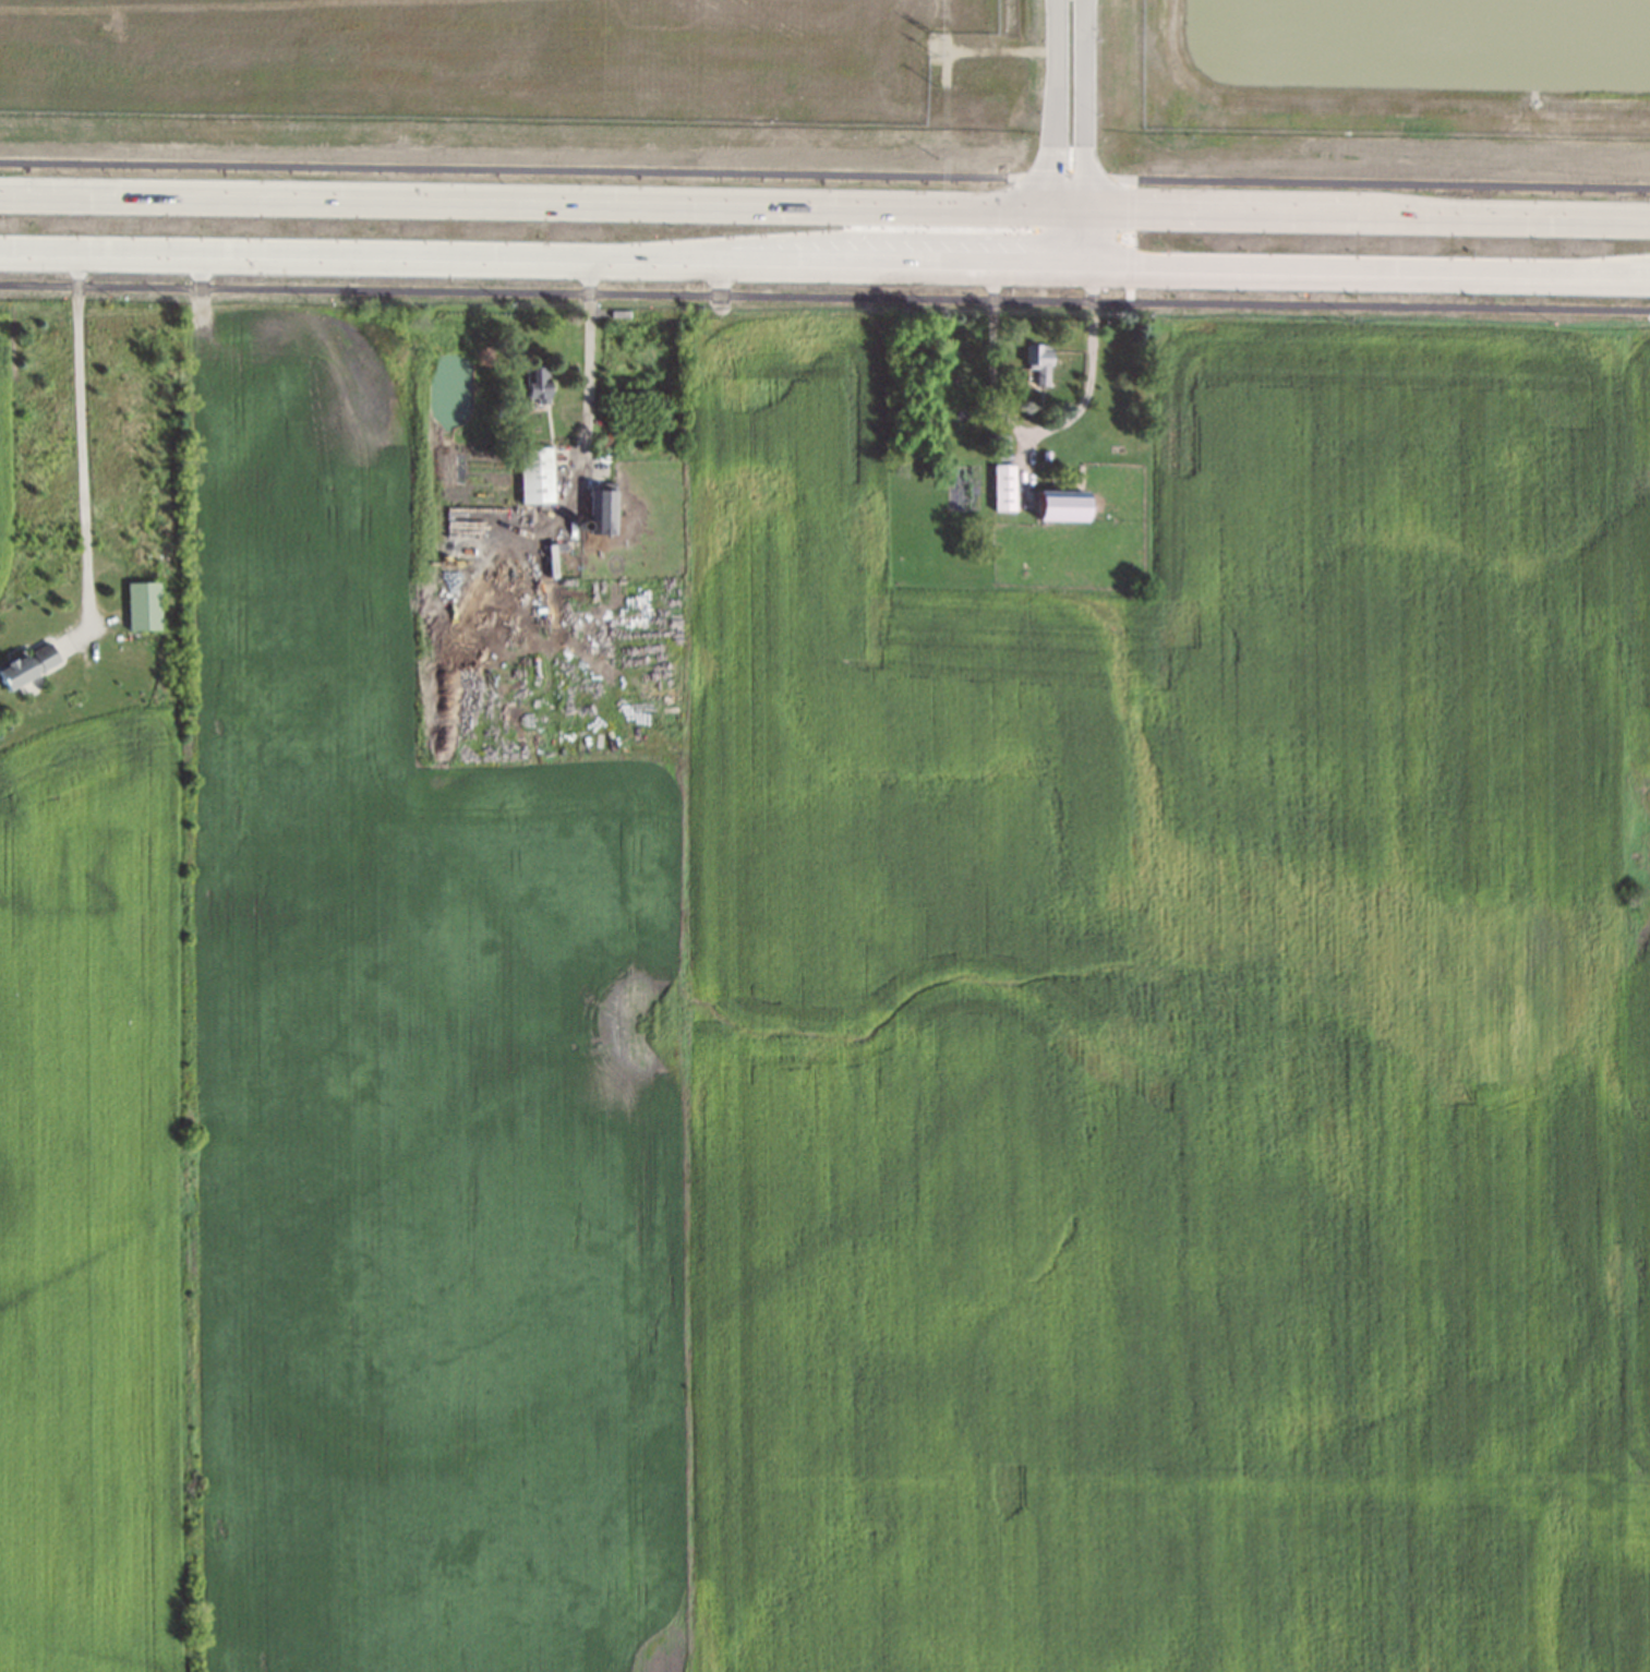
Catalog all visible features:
road: (1051, 103)
road: (1081, 103)
road: (508, 169)
road: (1064, 178)
road: (1381, 184)
road: (525, 199)
road: (1067, 206)
road: (1366, 212)
road: (1049, 221)
road: (1070, 227)
road: (831, 234)
road: (1083, 238)
road: (1049, 252)
road: (541, 261)
road: (1366, 270)
road: (824, 297)
road: (588, 354)
building: (1033, 360)
building: (531, 381)
road: (1034, 429)
building: (991, 432)
crop: (9, 437)
road: (81, 444)
building: (1038, 446)
building: (531, 473)
building: (997, 480)
building: (1055, 496)
building: (599, 497)
building: (556, 544)
building: (140, 599)
building: (24, 658)
crop: (1633, 861)
crop: (1155, 1048)
crop: (409, 1086)
crop: (98, 1211)

